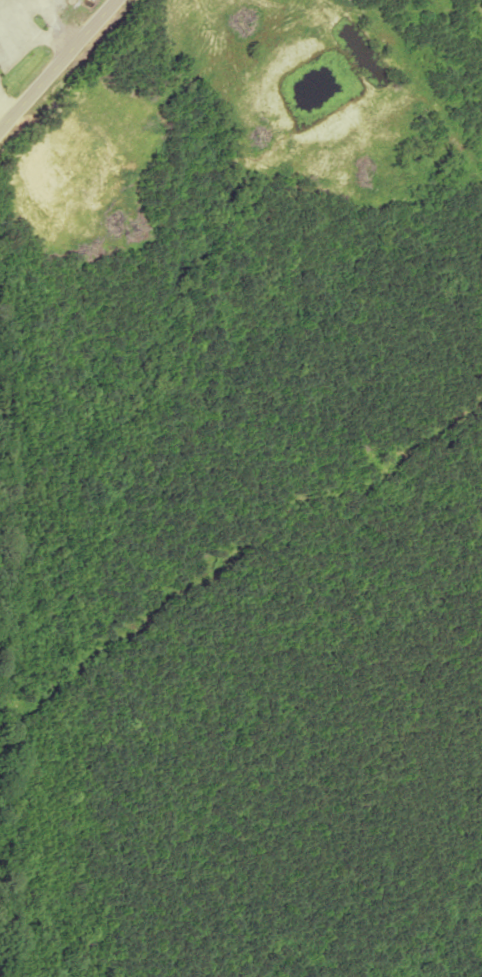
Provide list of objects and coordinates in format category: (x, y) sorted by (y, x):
road: (56, 64)

